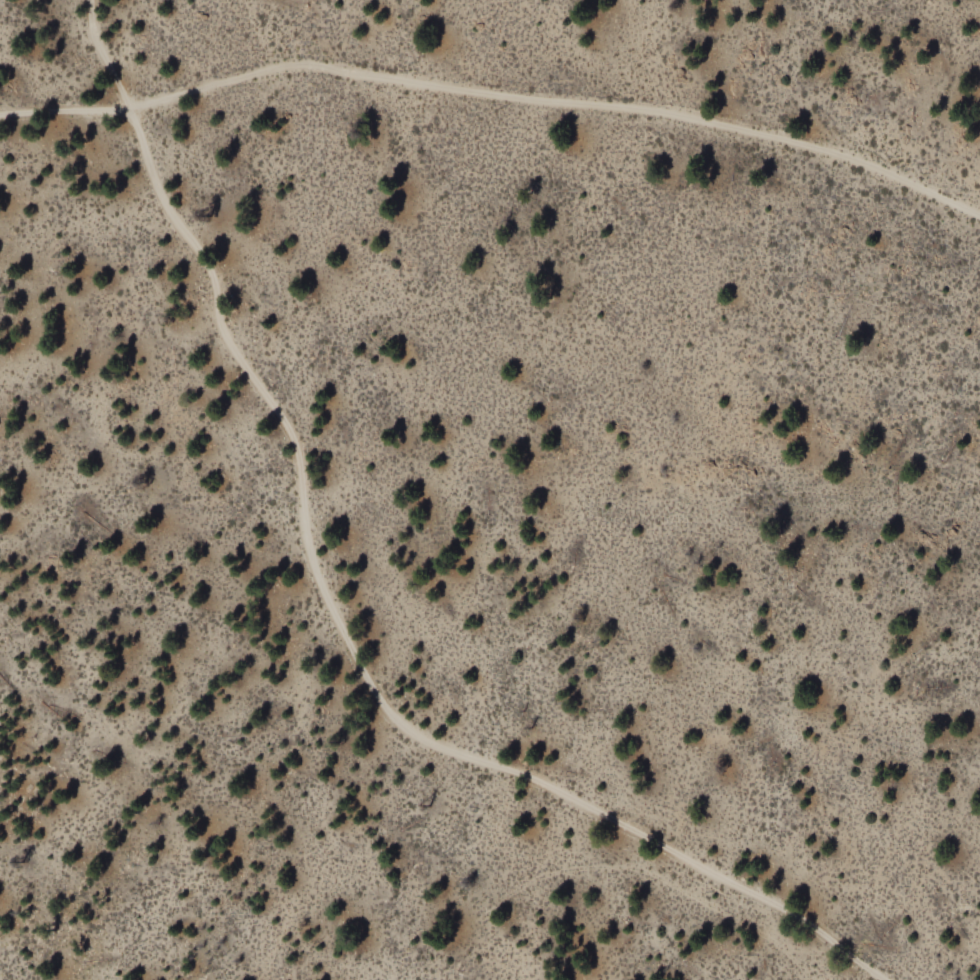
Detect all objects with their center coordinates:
road: (495, 101)
road: (336, 616)
road: (623, 873)
road: (840, 965)

